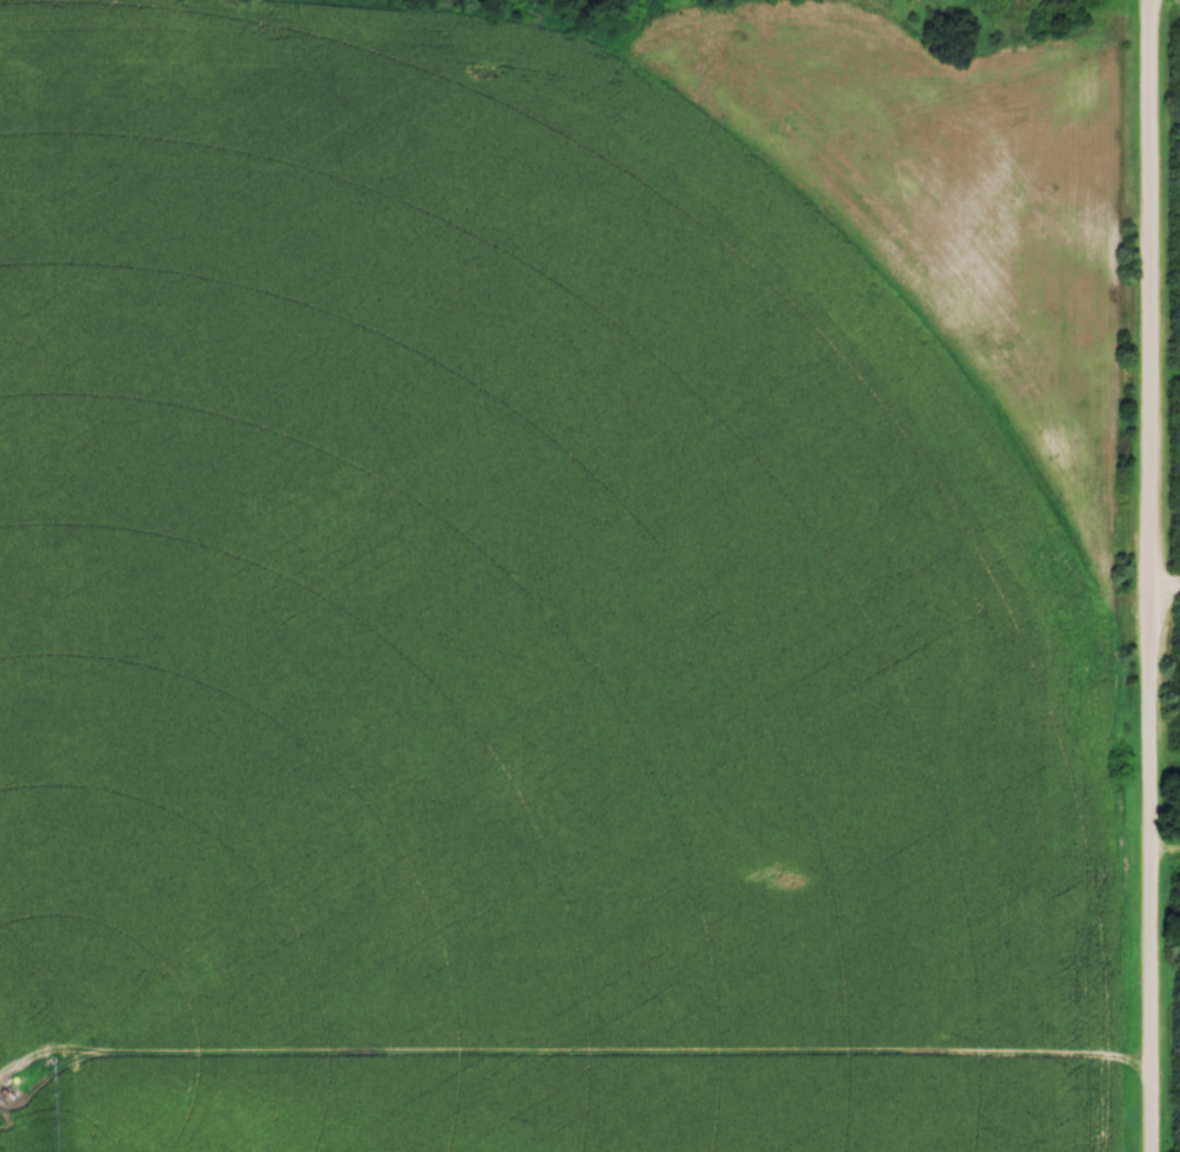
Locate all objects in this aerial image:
road: (1155, 575)
road: (1168, 590)

